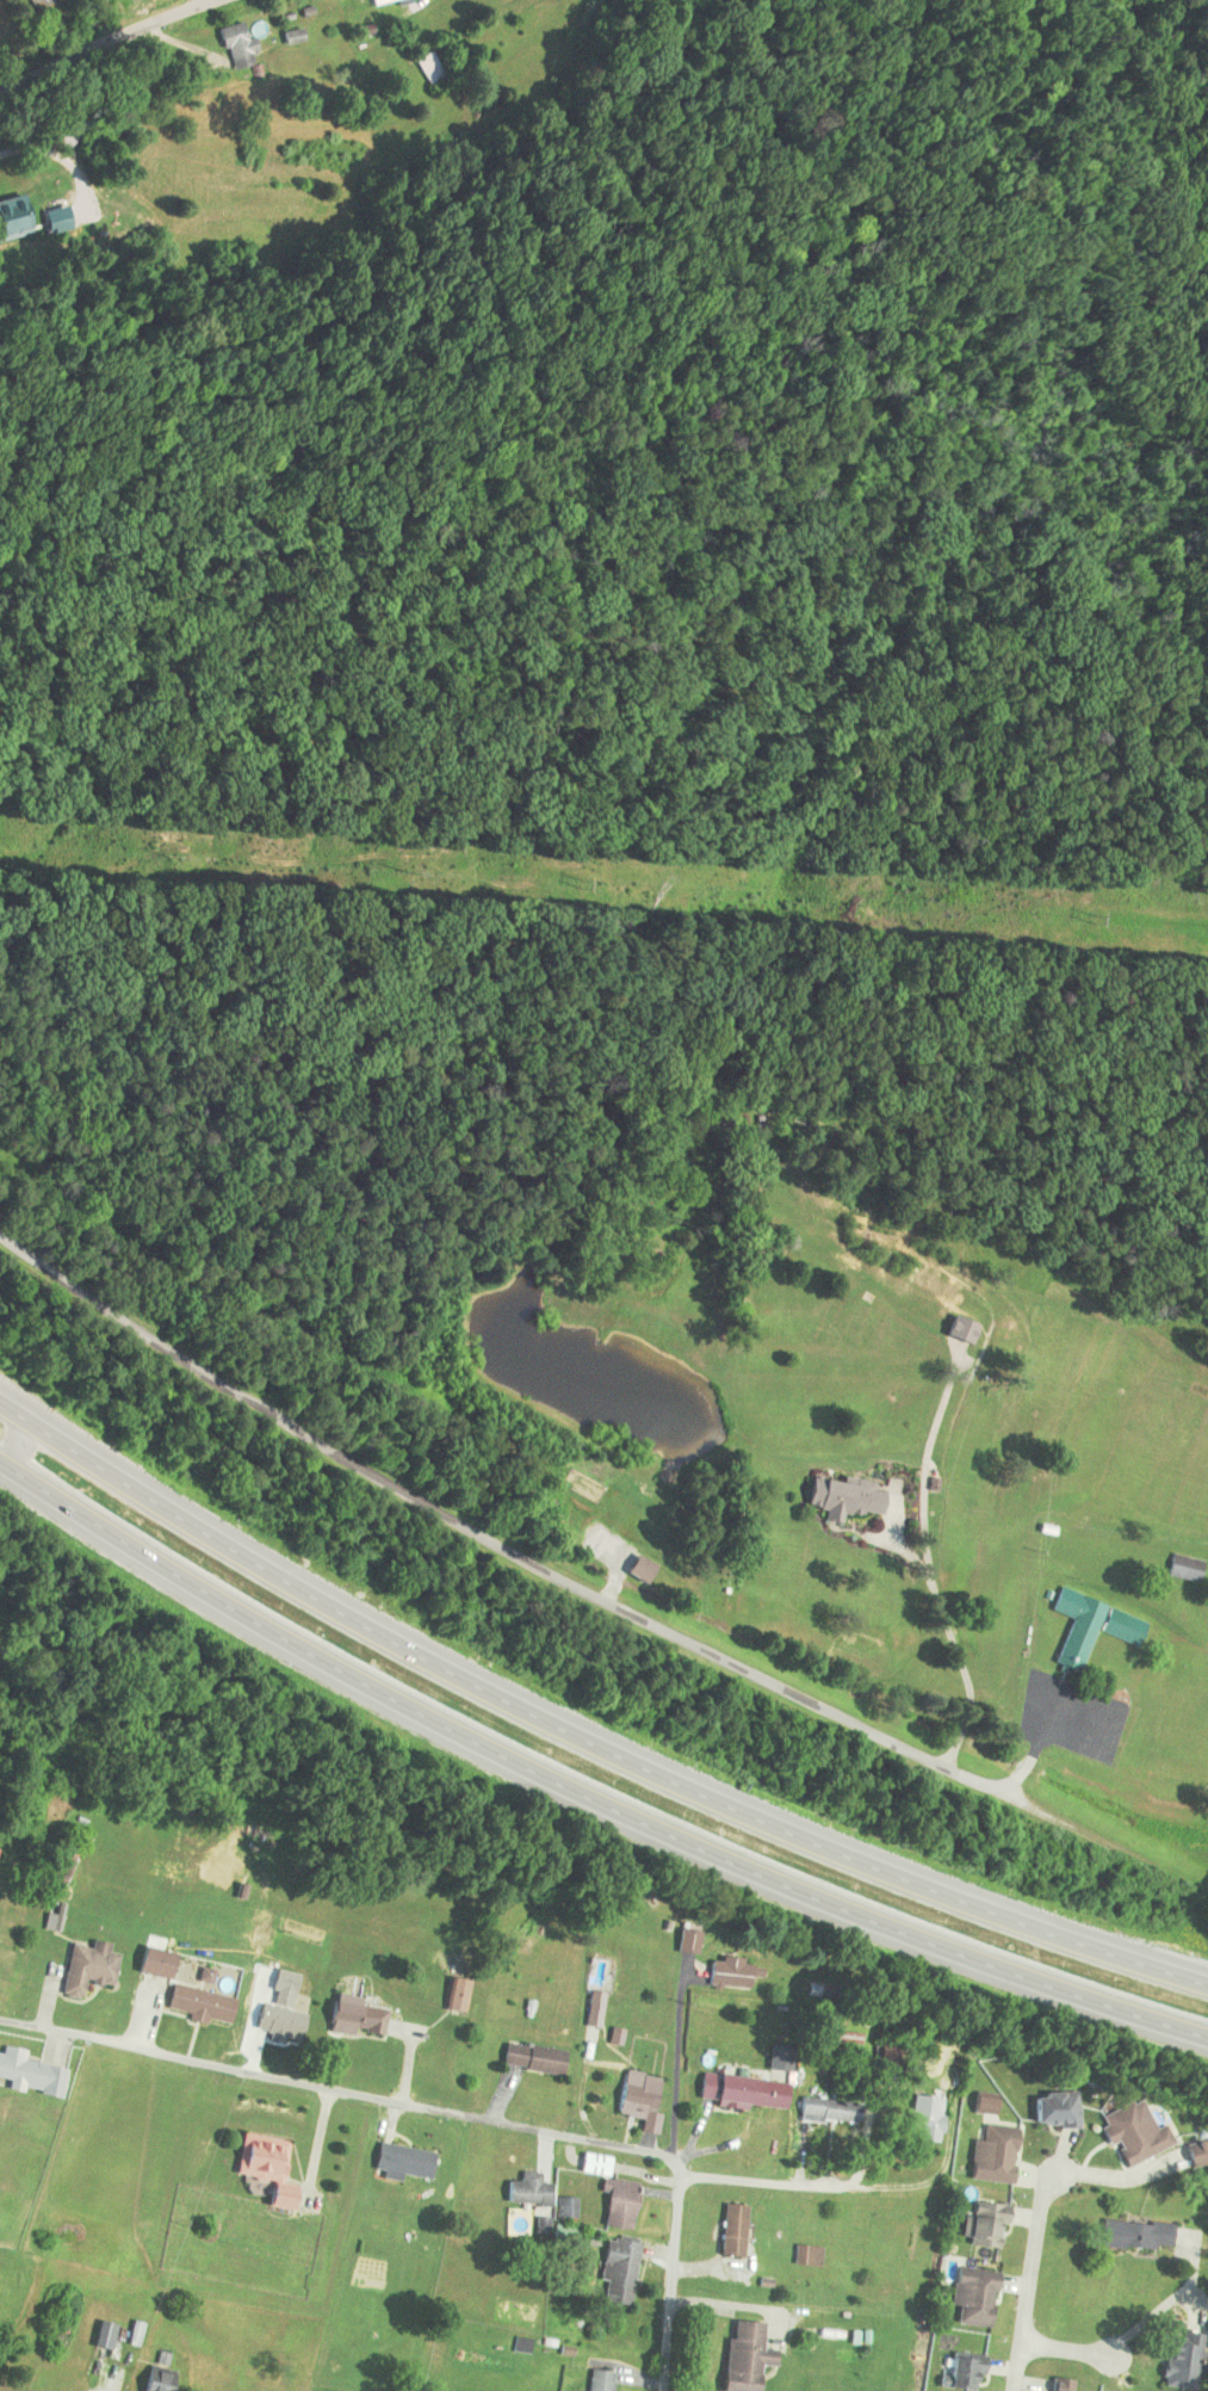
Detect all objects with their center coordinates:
building: (35, 1)
road: (103, 36)
building: (292, 36)
building: (238, 50)
building: (429, 67)
building: (12, 217)
building: (959, 1328)
building: (841, 1497)
road: (930, 1564)
building: (1183, 1567)
road: (587, 1593)
building: (1120, 1625)
building: (1073, 1626)
road: (581, 1742)
road: (581, 1800)
building: (687, 1940)
building: (86, 1966)
building: (729, 1972)
building: (456, 1994)
building: (197, 2003)
building: (594, 2008)
building: (354, 2019)
building: (531, 2057)
building: (29, 2072)
building: (741, 2090)
building: (634, 2094)
building: (980, 2106)
building: (1053, 2108)
building: (828, 2109)
road: (447, 2113)
building: (924, 2113)
building: (1133, 2131)
building: (1197, 2151)
building: (992, 2154)
building: (401, 2160)
building: (264, 2167)
building: (526, 2191)
building: (617, 2202)
building: (981, 2220)
building: (731, 2230)
building: (1134, 2234)
building: (805, 2255)
building: (618, 2270)
road: (1028, 2280)
building: (972, 2296)
building: (134, 2333)
building: (104, 2337)
road: (1064, 2347)
building: (742, 2355)
building: (1181, 2360)
building: (962, 2372)
building: (157, 2378)
building: (599, 2380)
building: (1059, 2384)

